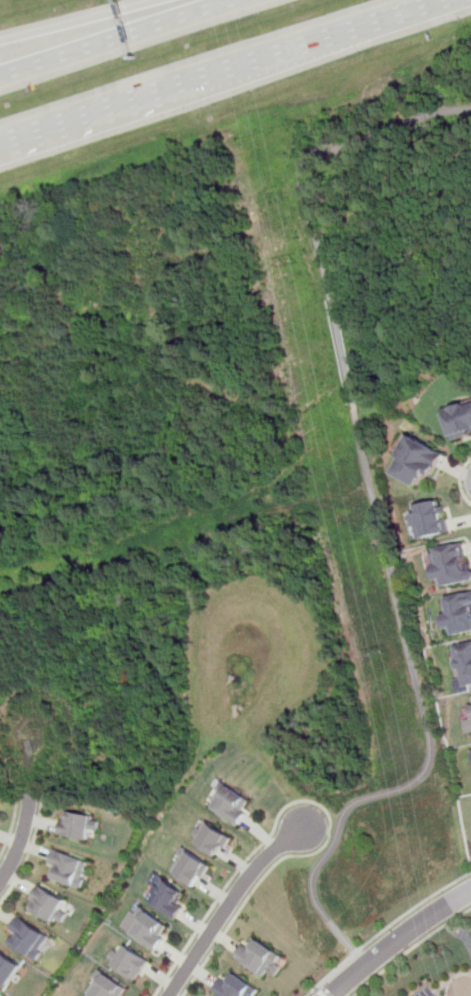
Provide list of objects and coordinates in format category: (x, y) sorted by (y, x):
road: (82, 20)
road: (116, 38)
road: (301, 46)
road: (81, 119)
power tower: (290, 263)
building: (458, 423)
building: (417, 460)
road: (462, 482)
road: (376, 503)
building: (432, 518)
building: (445, 568)
building: (453, 616)
power tower: (381, 653)
building: (461, 665)
building: (470, 699)
building: (470, 705)
building: (468, 725)
building: (233, 803)
road: (317, 804)
road: (27, 814)
building: (79, 824)
road: (10, 830)
building: (213, 838)
road: (27, 854)
building: (192, 866)
building: (68, 868)
building: (168, 898)
road: (232, 899)
building: (49, 905)
road: (412, 912)
building: (144, 926)
building: (29, 938)
road: (400, 940)
road: (410, 950)
power tower: (452, 956)
building: (261, 957)
building: (128, 962)
building: (8, 970)
road: (337, 972)
building: (235, 986)
building: (105, 988)
road: (315, 993)
road: (322, 993)
building: (1, 995)
road: (468, 995)

